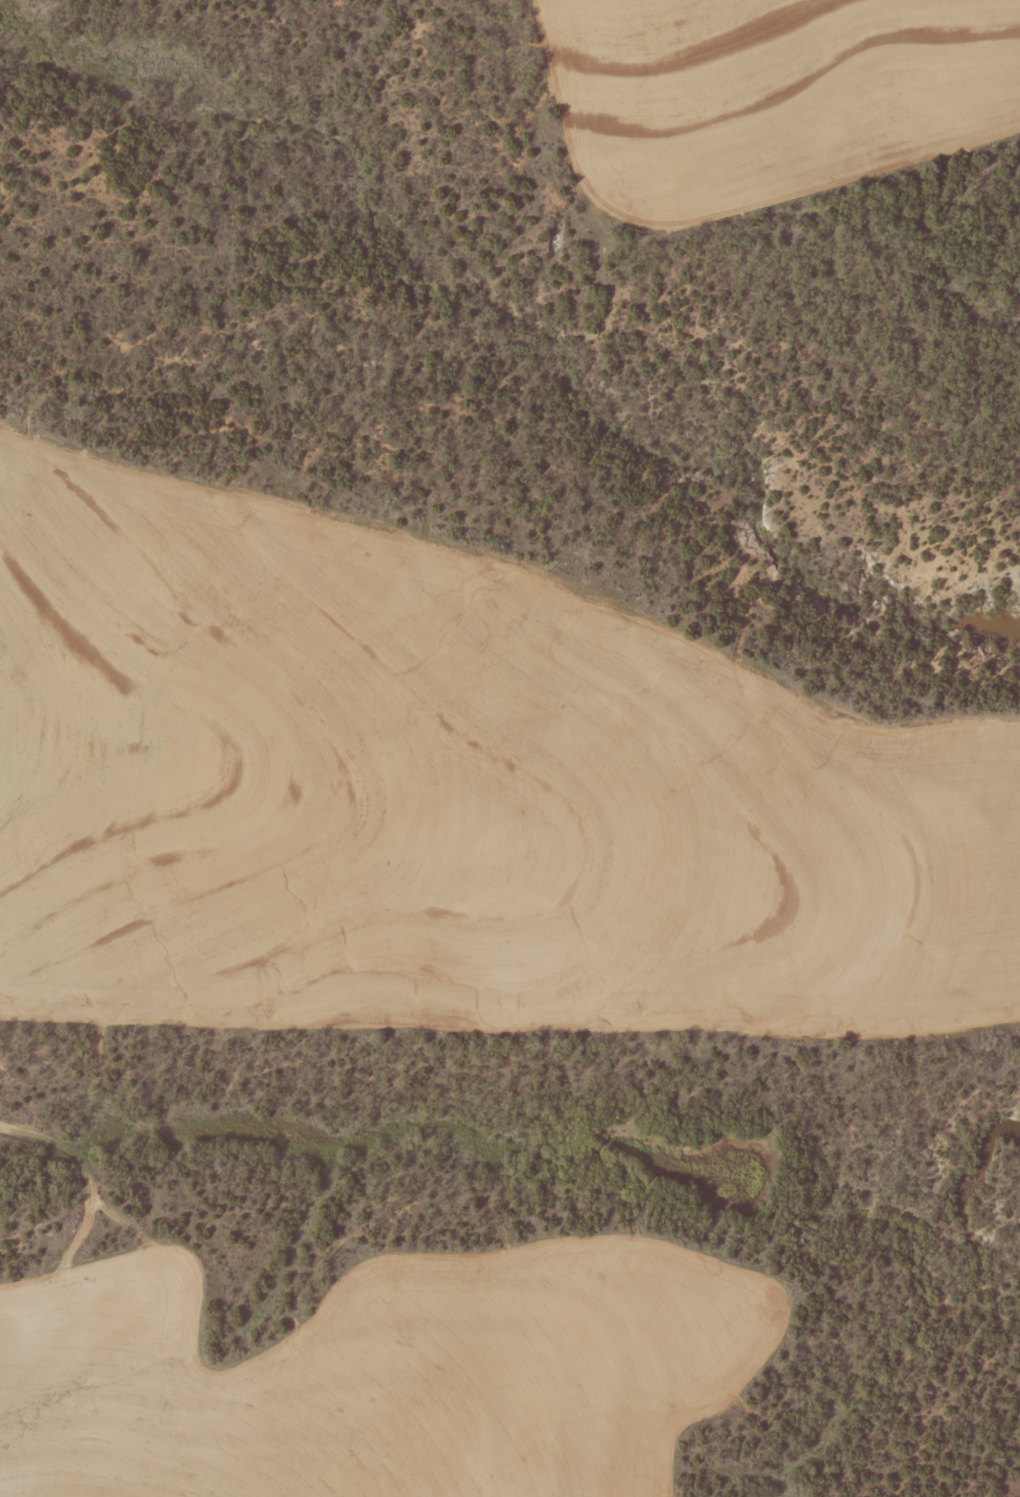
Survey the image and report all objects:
road: (103, 1223)

